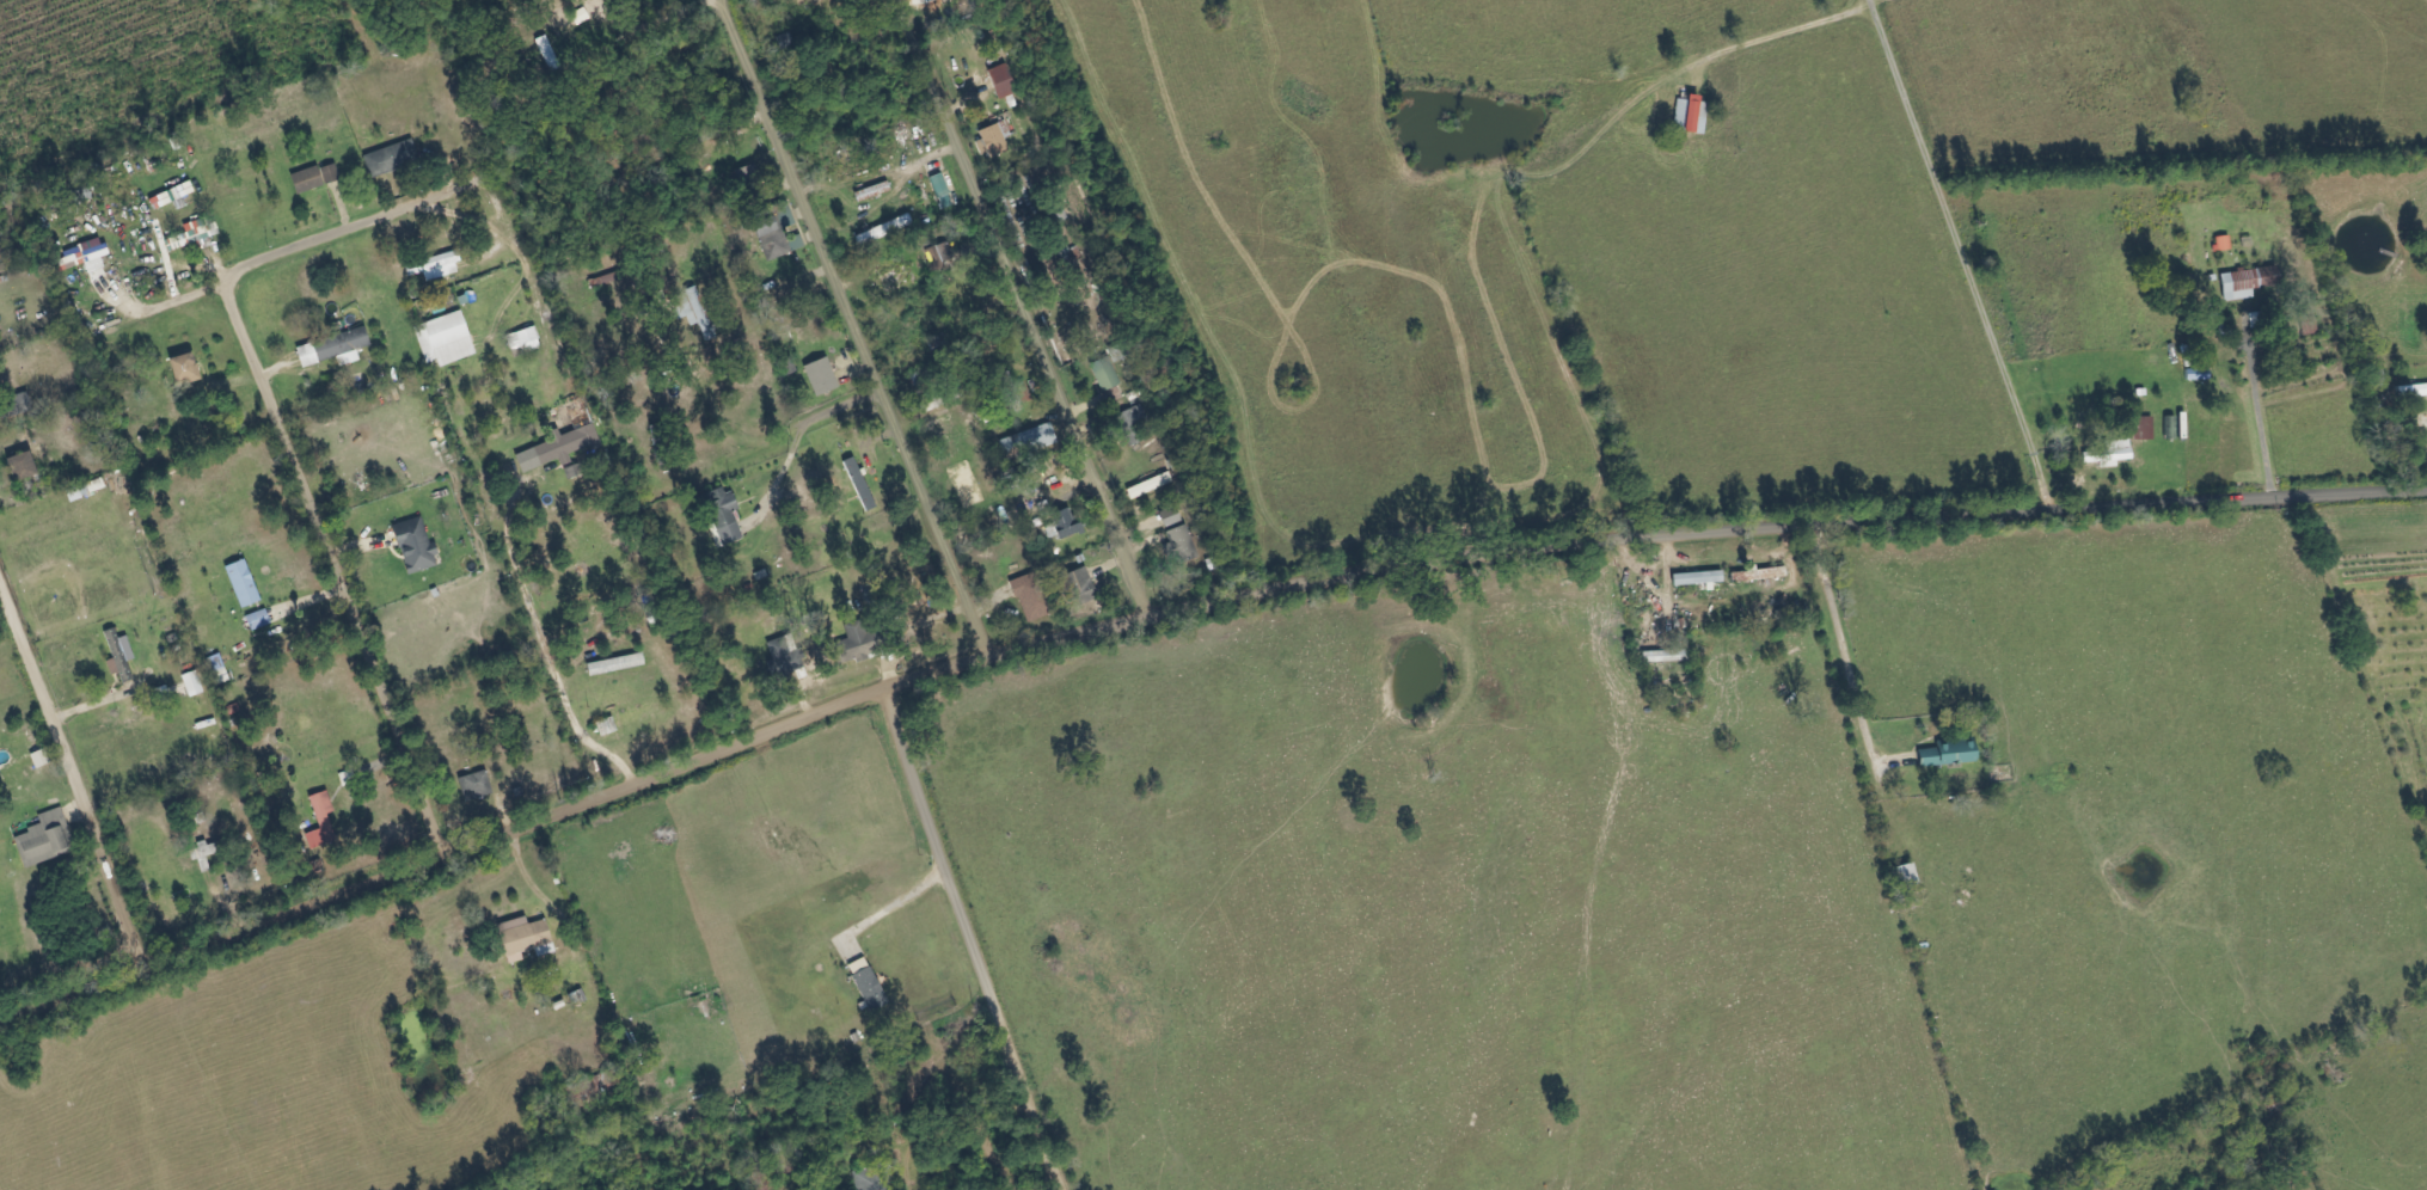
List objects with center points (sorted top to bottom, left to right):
building: (1003, 82)
building: (1691, 116)
building: (707, 134)
building: (995, 139)
building: (392, 158)
building: (314, 178)
building: (939, 185)
building: (171, 196)
building: (774, 231)
building: (197, 232)
building: (874, 235)
building: (939, 256)
building: (82, 258)
building: (2249, 283)
road: (1022, 305)
building: (692, 308)
road: (851, 327)
building: (446, 341)
building: (335, 349)
building: (184, 368)
building: (1105, 374)
building: (821, 378)
building: (2411, 391)
building: (1132, 427)
building: (2144, 429)
building: (564, 438)
road: (284, 447)
building: (2110, 454)
building: (22, 467)
building: (860, 484)
building: (1150, 486)
building: (1041, 510)
building: (723, 515)
building: (1066, 523)
building: (1181, 545)
building: (415, 546)
building: (1773, 573)
building: (1698, 578)
building: (243, 584)
building: (1080, 587)
building: (1034, 599)
road: (1181, 605)
building: (259, 620)
building: (860, 644)
building: (119, 656)
building: (1666, 657)
building: (785, 658)
building: (192, 685)
building: (606, 728)
building: (1948, 755)
building: (348, 778)
road: (71, 779)
building: (476, 786)
building: (321, 822)
building: (47, 836)
building: (206, 855)
building: (1905, 878)
building: (526, 938)
road: (969, 940)

